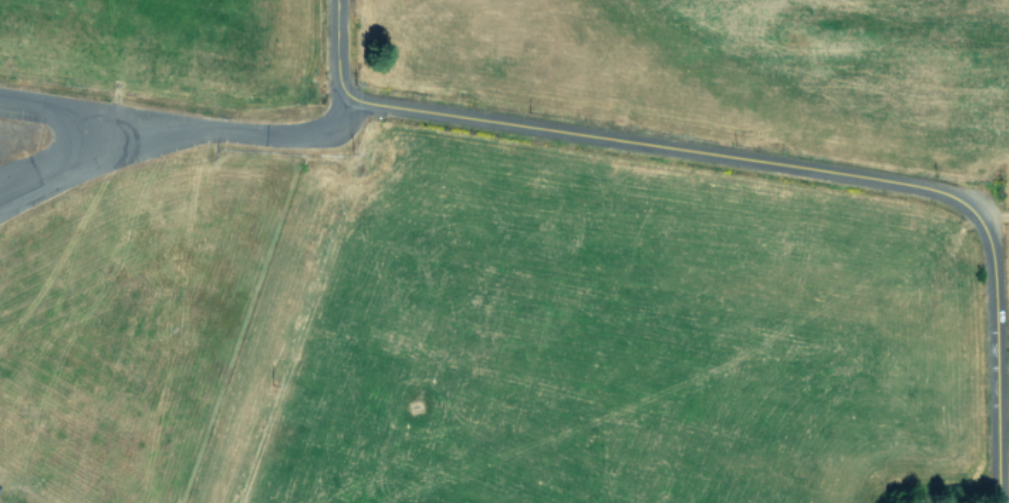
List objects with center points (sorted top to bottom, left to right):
road: (335, 48)
road: (183, 123)
road: (668, 146)
road: (84, 159)
crop: (562, 165)
road: (995, 362)
crop: (405, 400)

